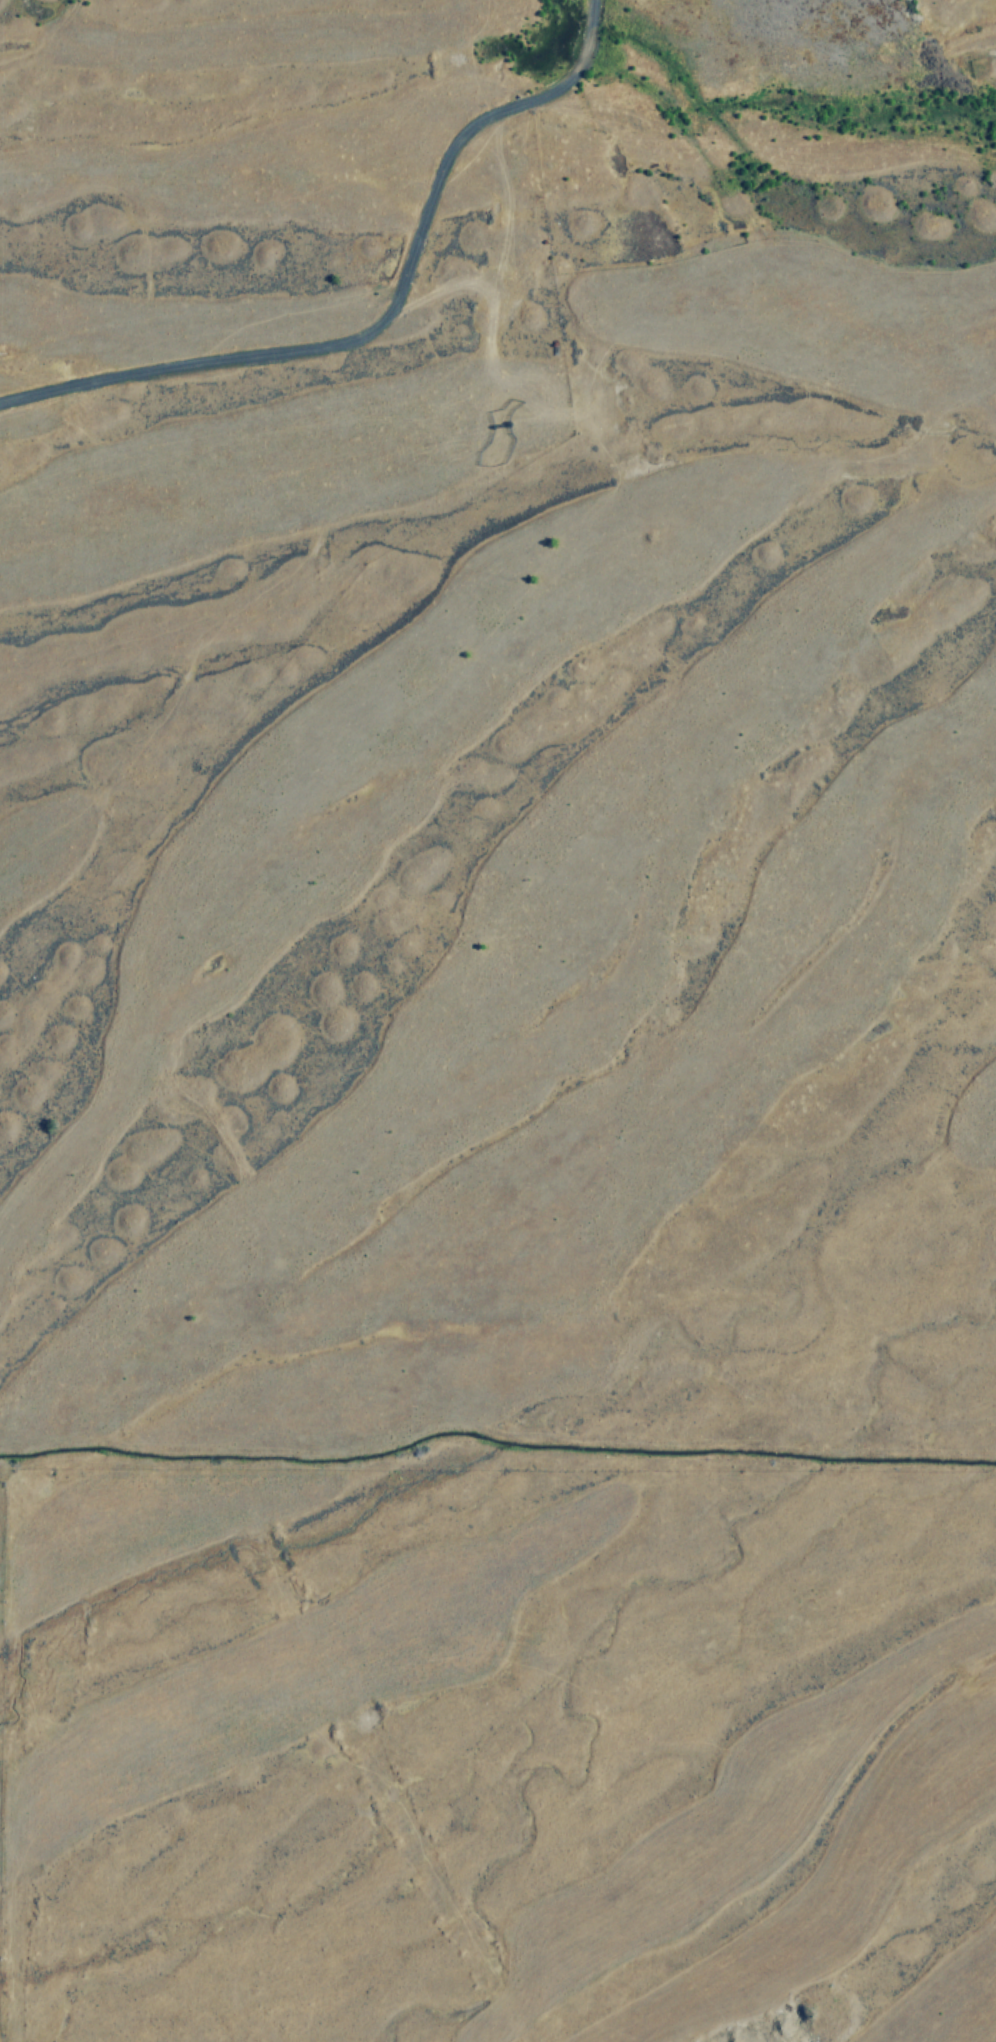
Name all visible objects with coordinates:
road: (380, 310)

